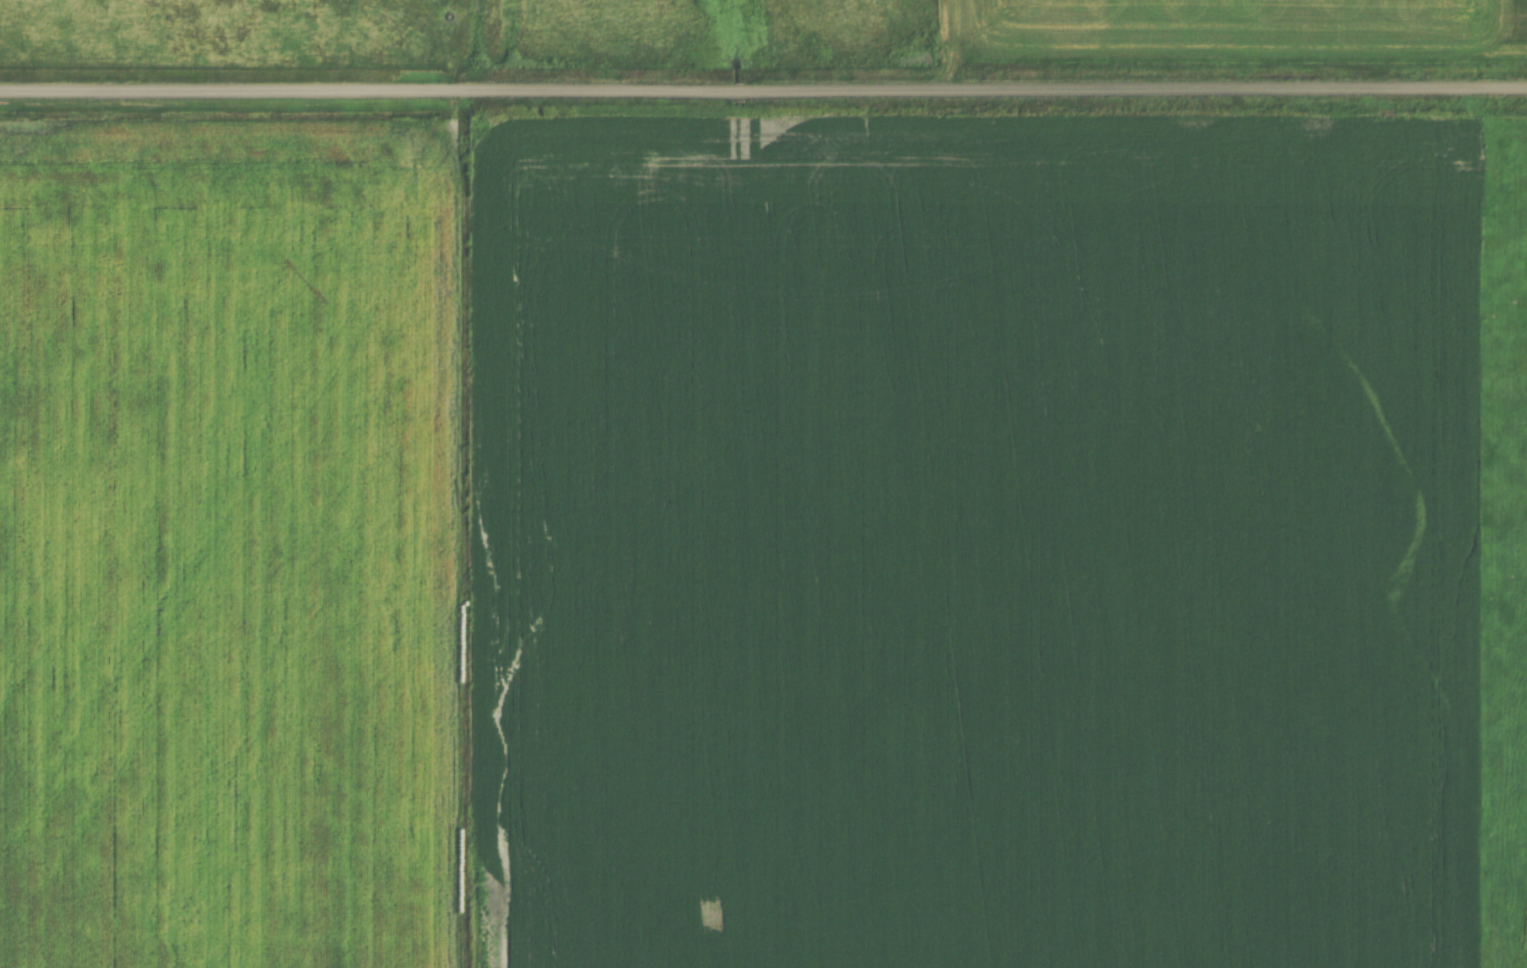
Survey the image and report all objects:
road: (763, 93)

